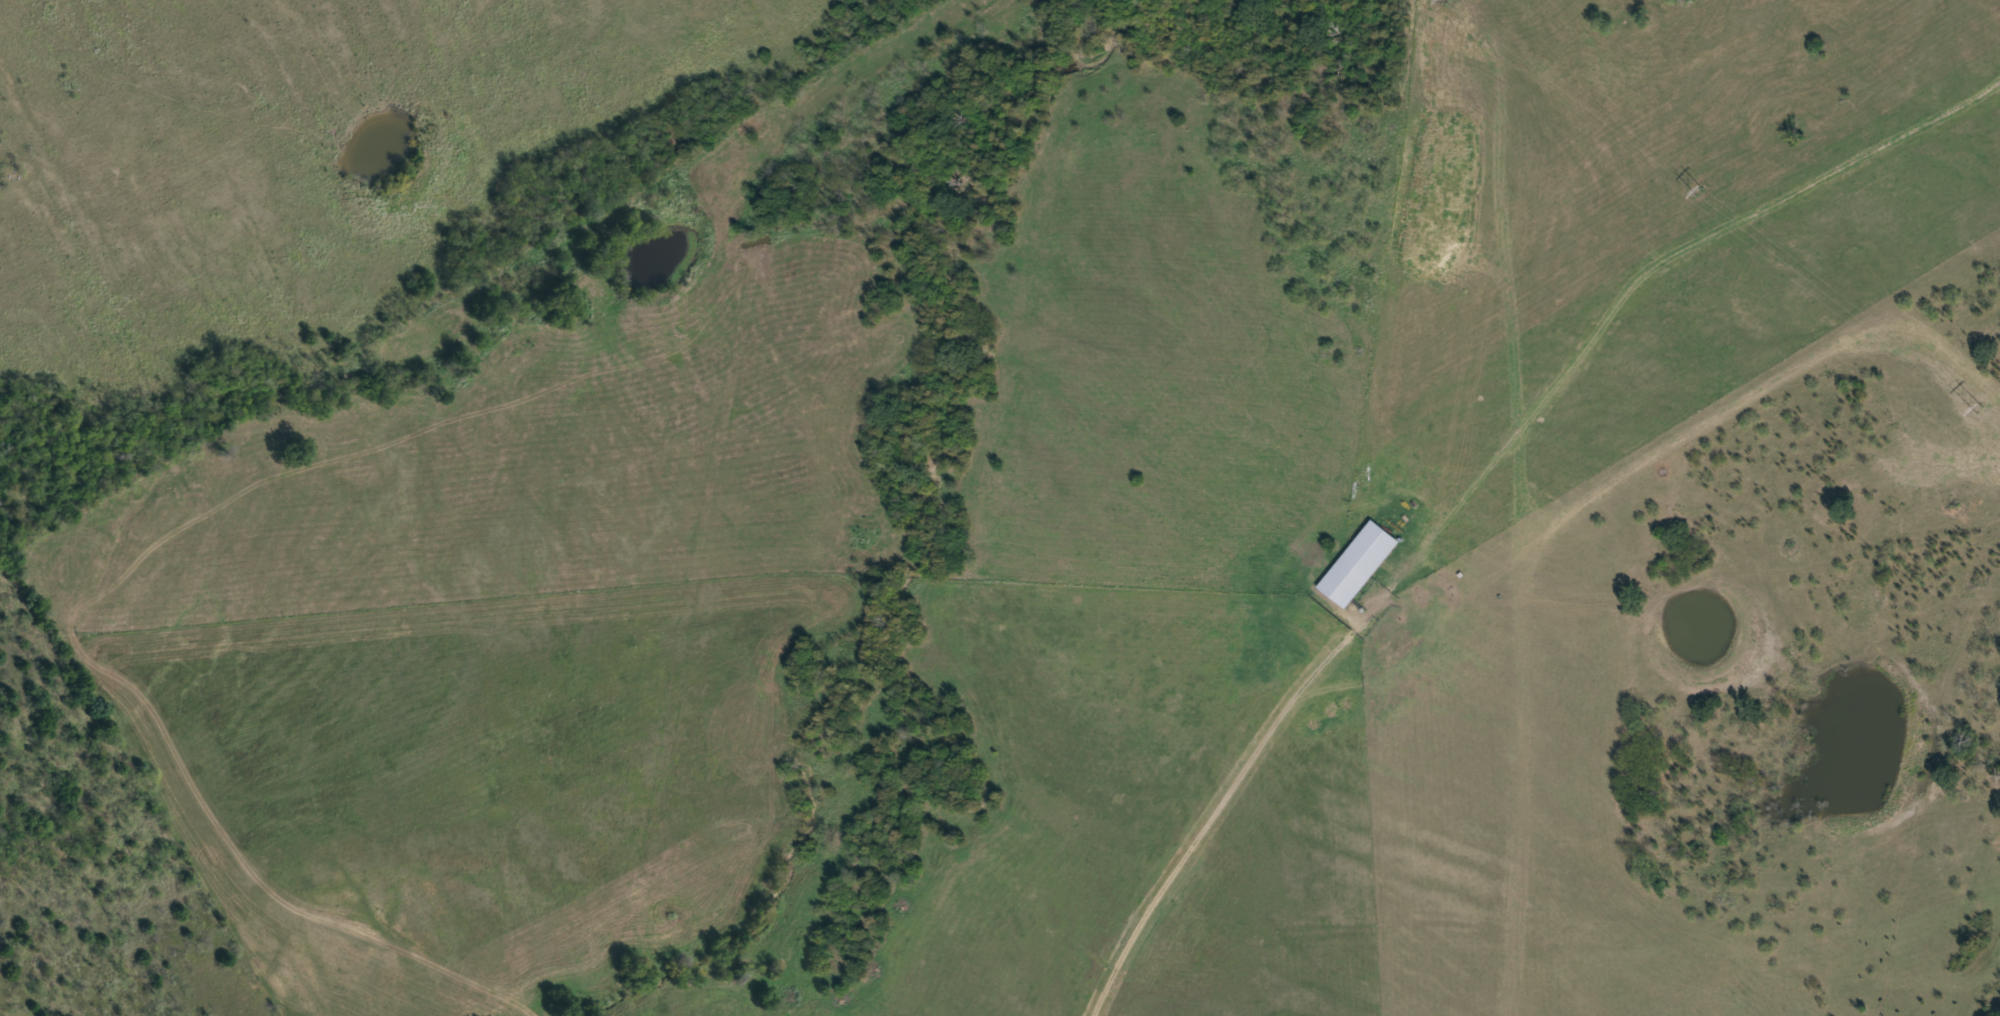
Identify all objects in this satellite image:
building: (1333, 621)

